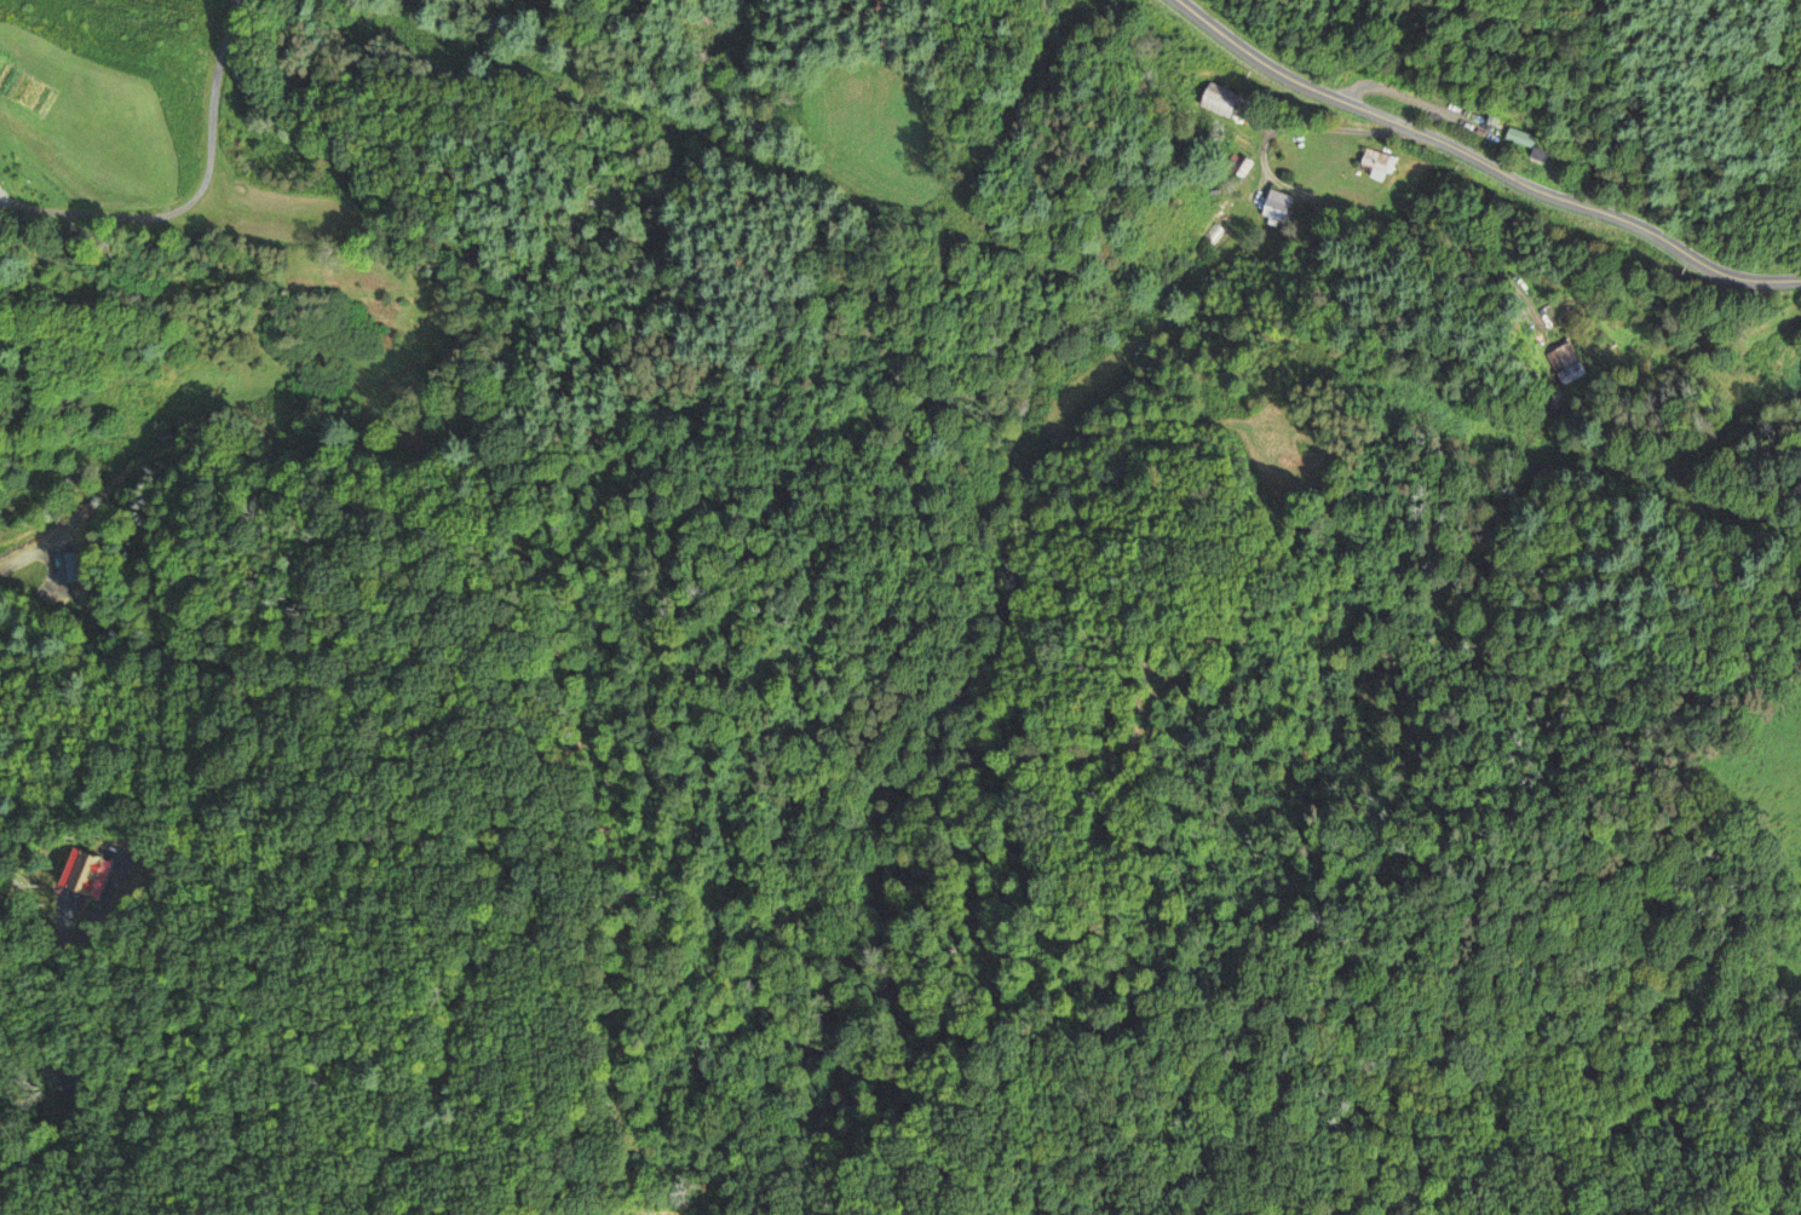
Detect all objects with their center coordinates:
building: (1218, 99)
building: (1530, 142)
road: (1478, 161)
building: (1377, 163)
building: (1239, 165)
building: (1276, 206)
road: (1362, 223)
building: (1215, 229)
building: (1565, 364)
building: (41, 568)

